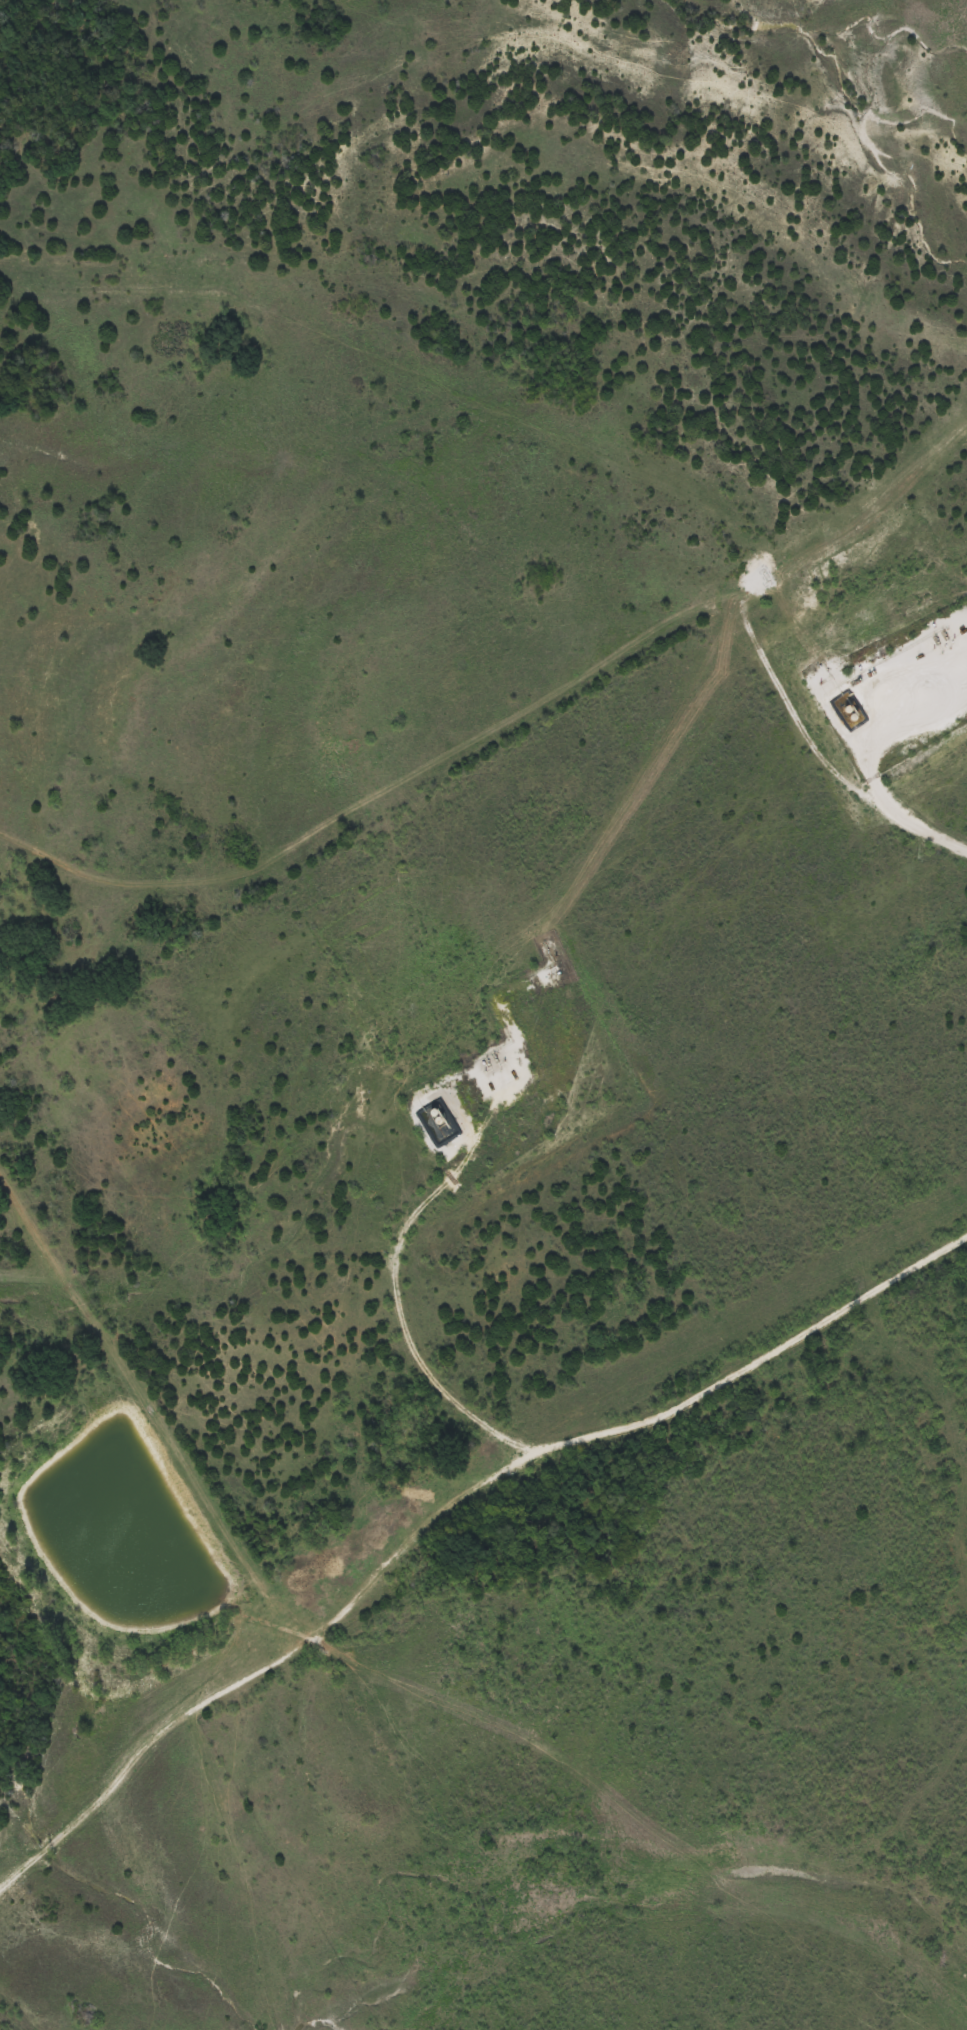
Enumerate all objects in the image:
road: (917, 831)
road: (407, 1339)
road: (452, 1509)

